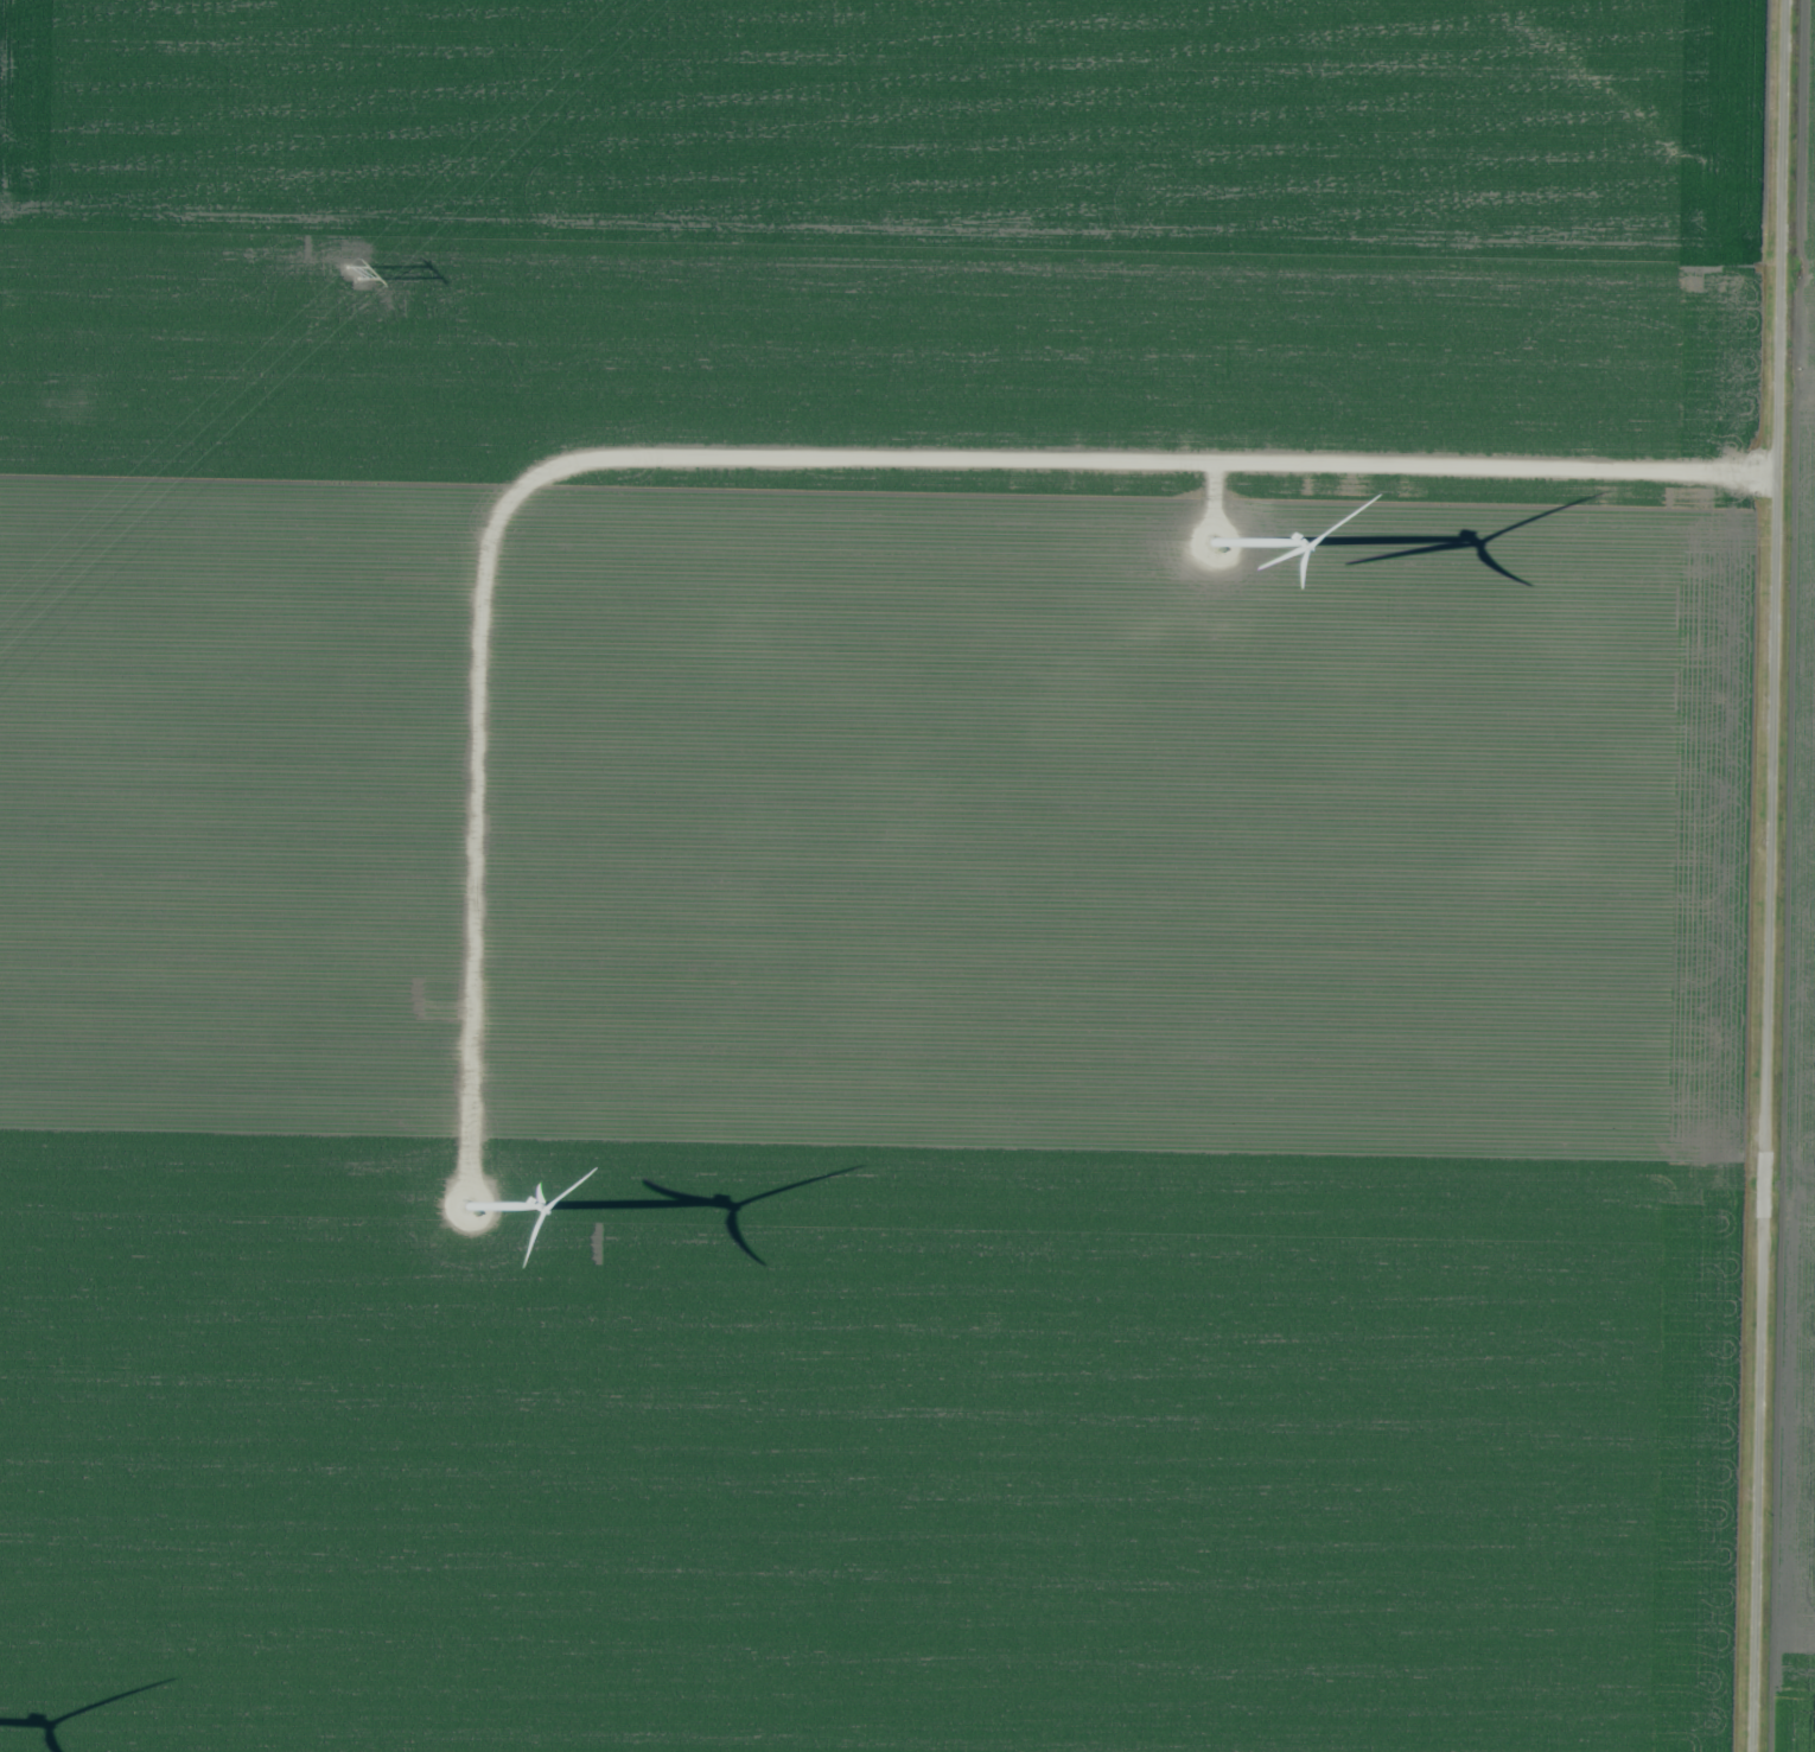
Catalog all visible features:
power tower: (354, 270)
wind turbine: (1212, 555)
road: (1771, 875)
wind turbine: (463, 1174)

